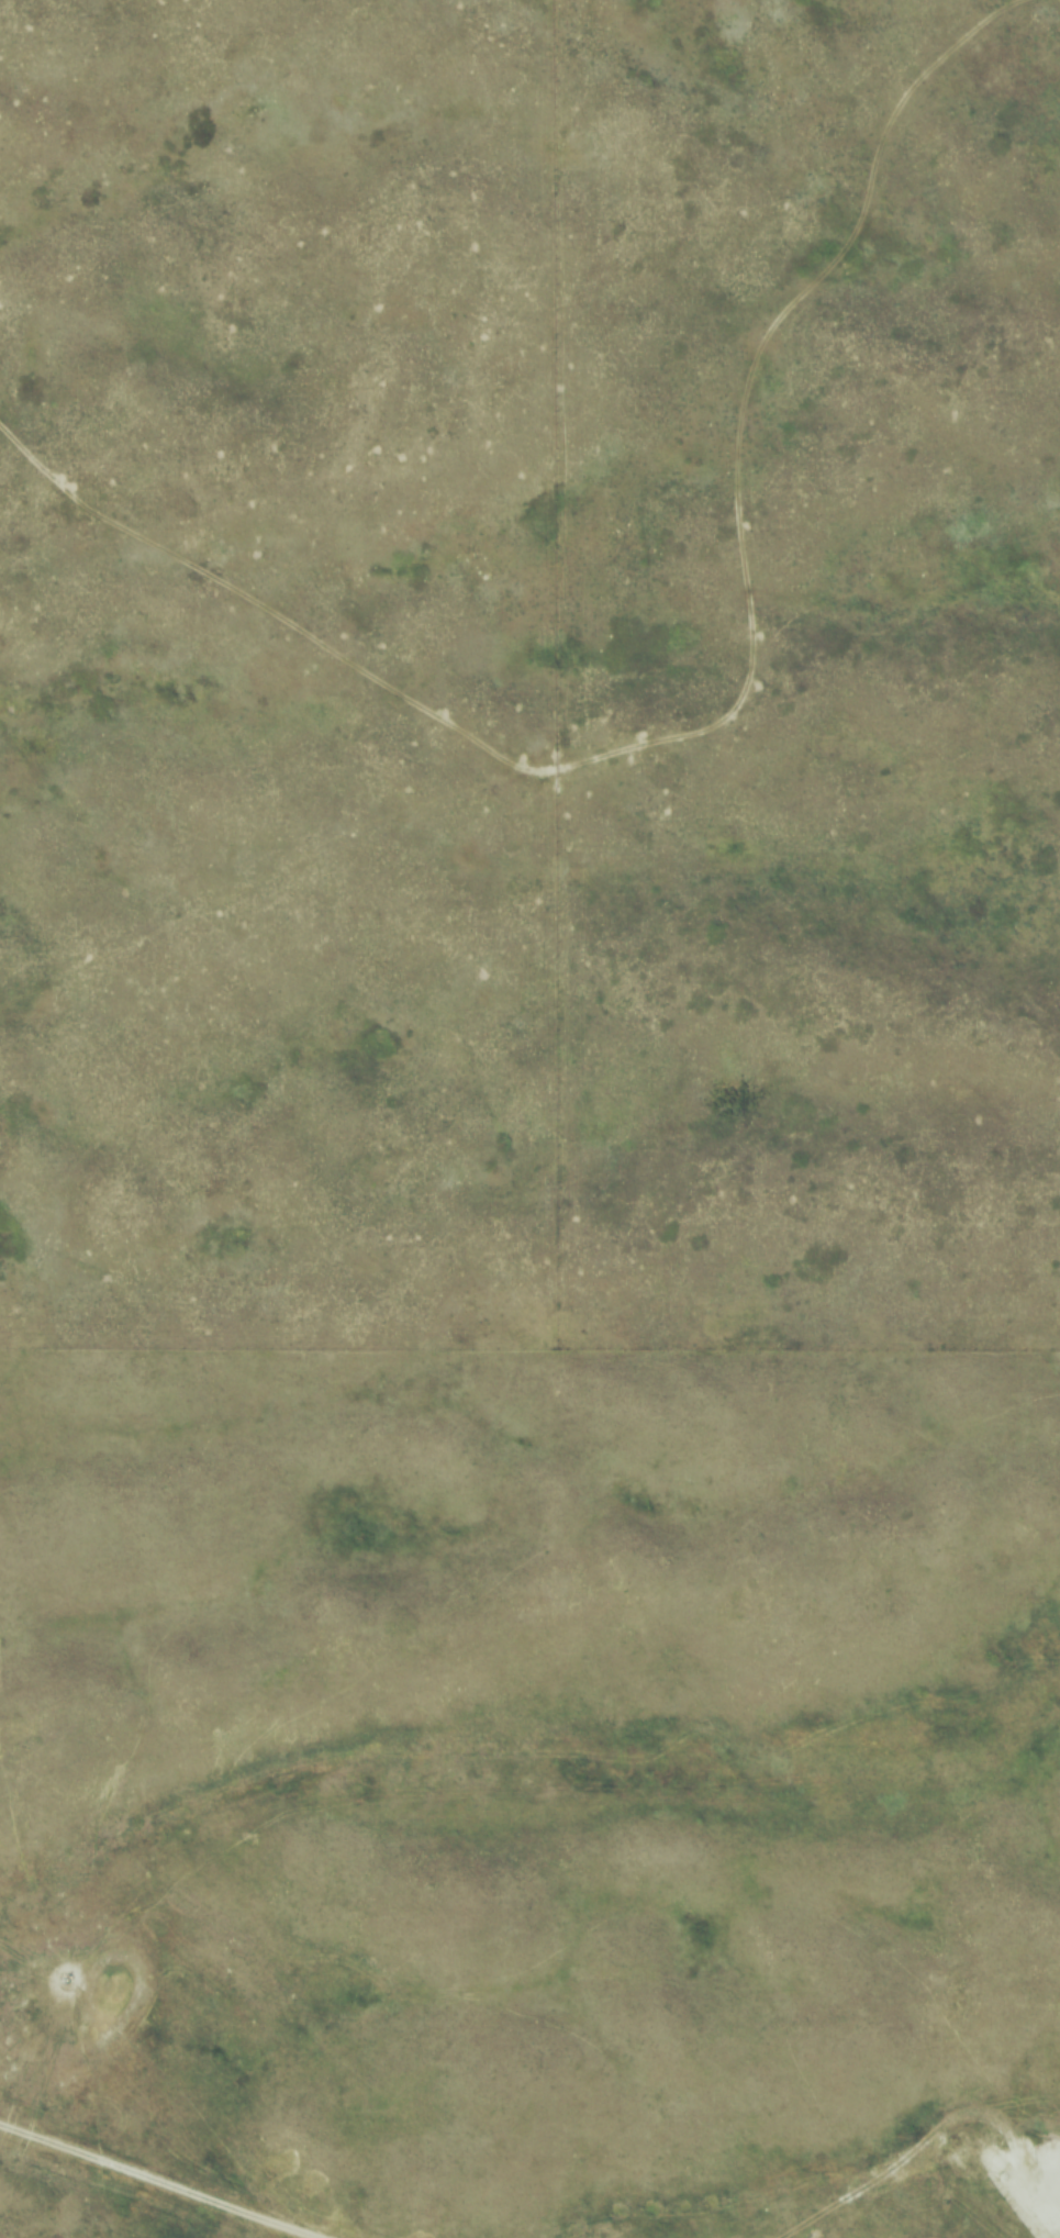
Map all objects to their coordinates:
road: (145, 2187)

